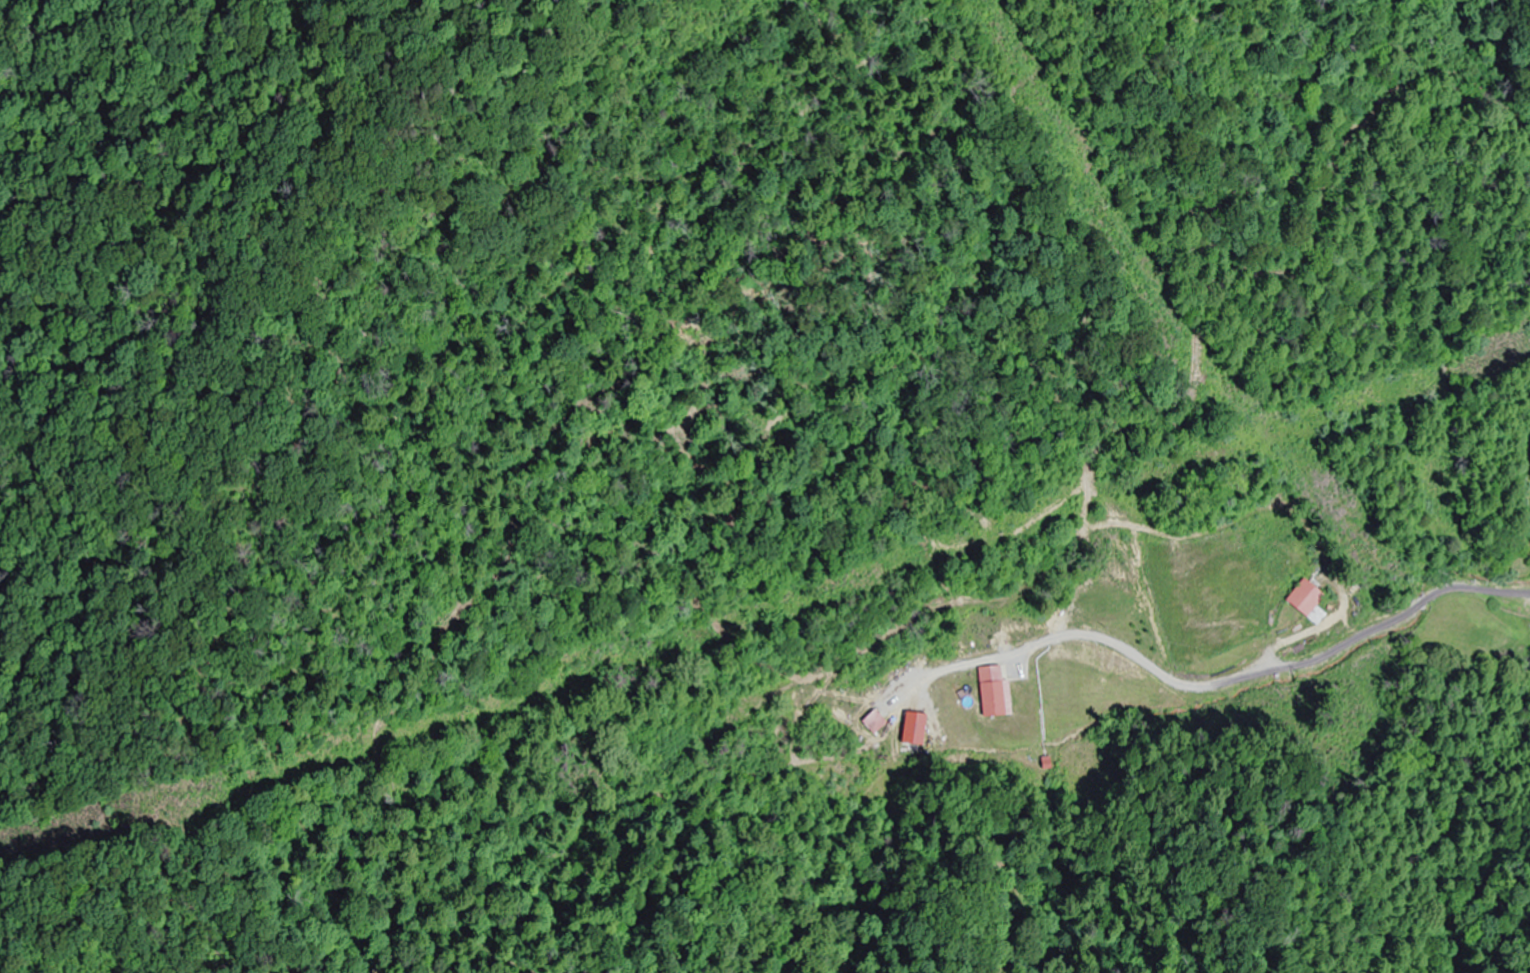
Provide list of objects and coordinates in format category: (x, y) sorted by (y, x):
building: (1301, 598)
road: (1273, 676)
building: (990, 693)

